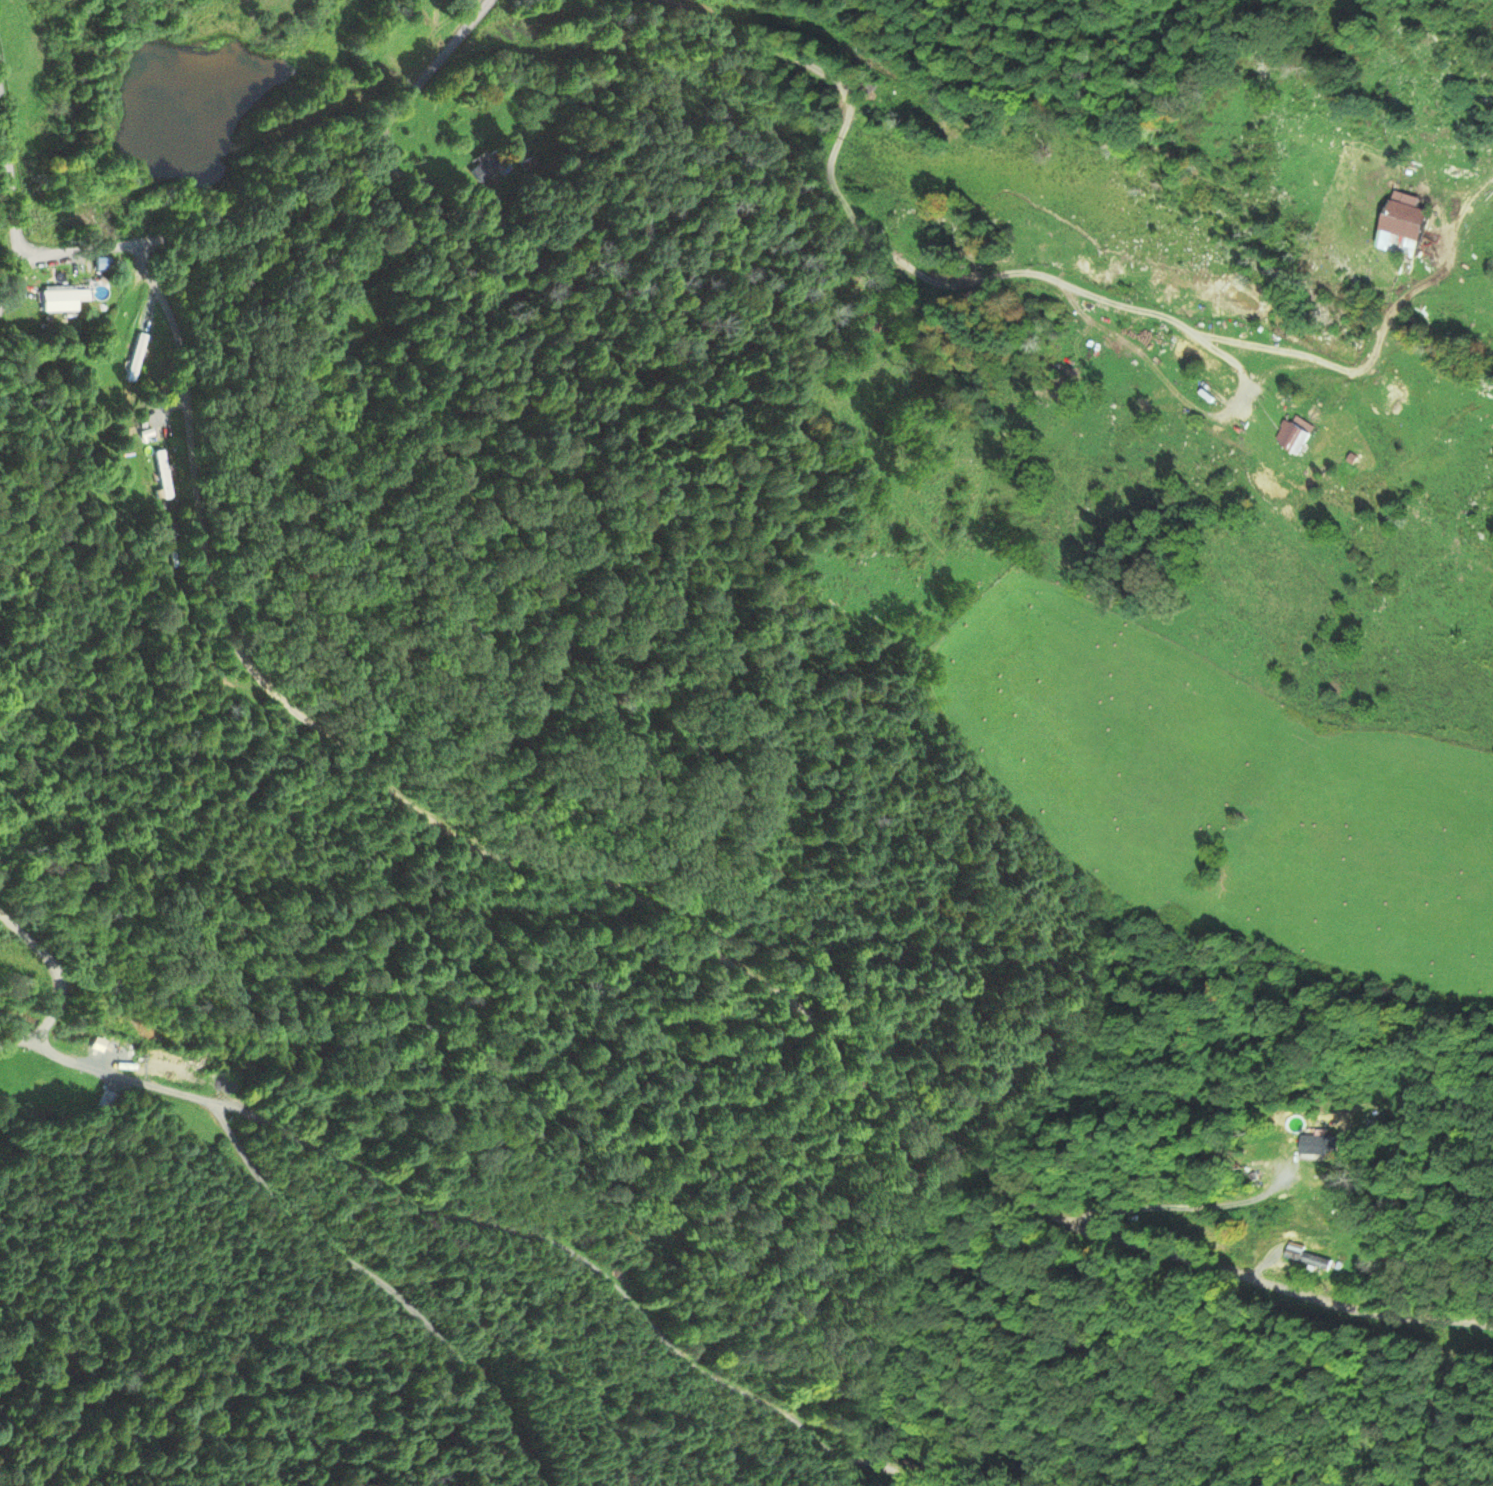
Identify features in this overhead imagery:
building: (487, 167)
road: (13, 169)
road: (287, 186)
building: (1403, 230)
road: (13, 265)
building: (103, 265)
road: (13, 280)
road: (1056, 282)
building: (62, 300)
building: (1292, 439)
building: (162, 476)
road: (648, 948)
road: (57, 982)
building: (108, 1100)
road: (495, 1223)
building: (1307, 1259)
road: (380, 1280)

